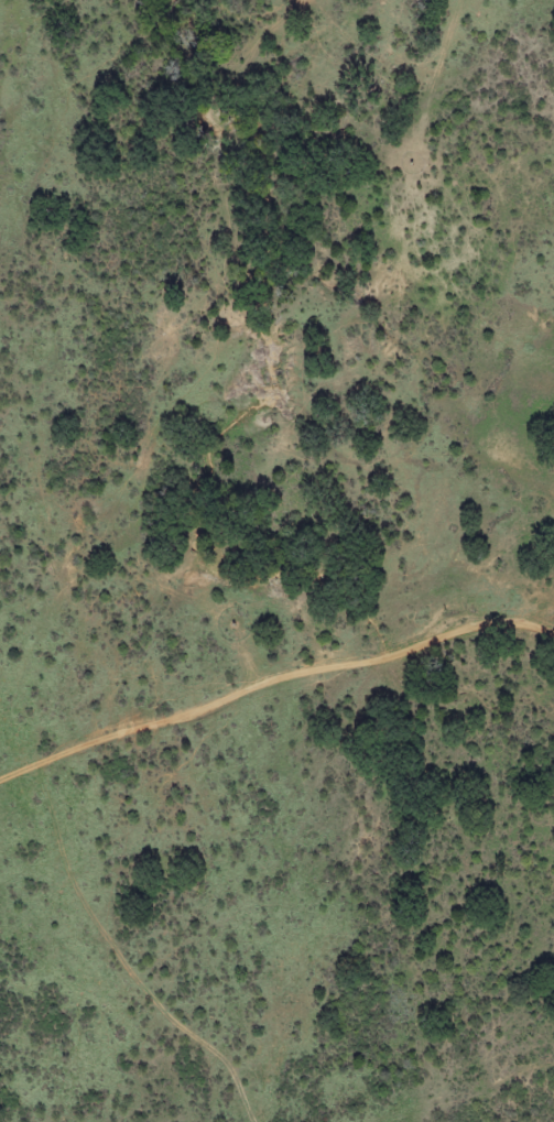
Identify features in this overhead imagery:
road: (272, 679)

